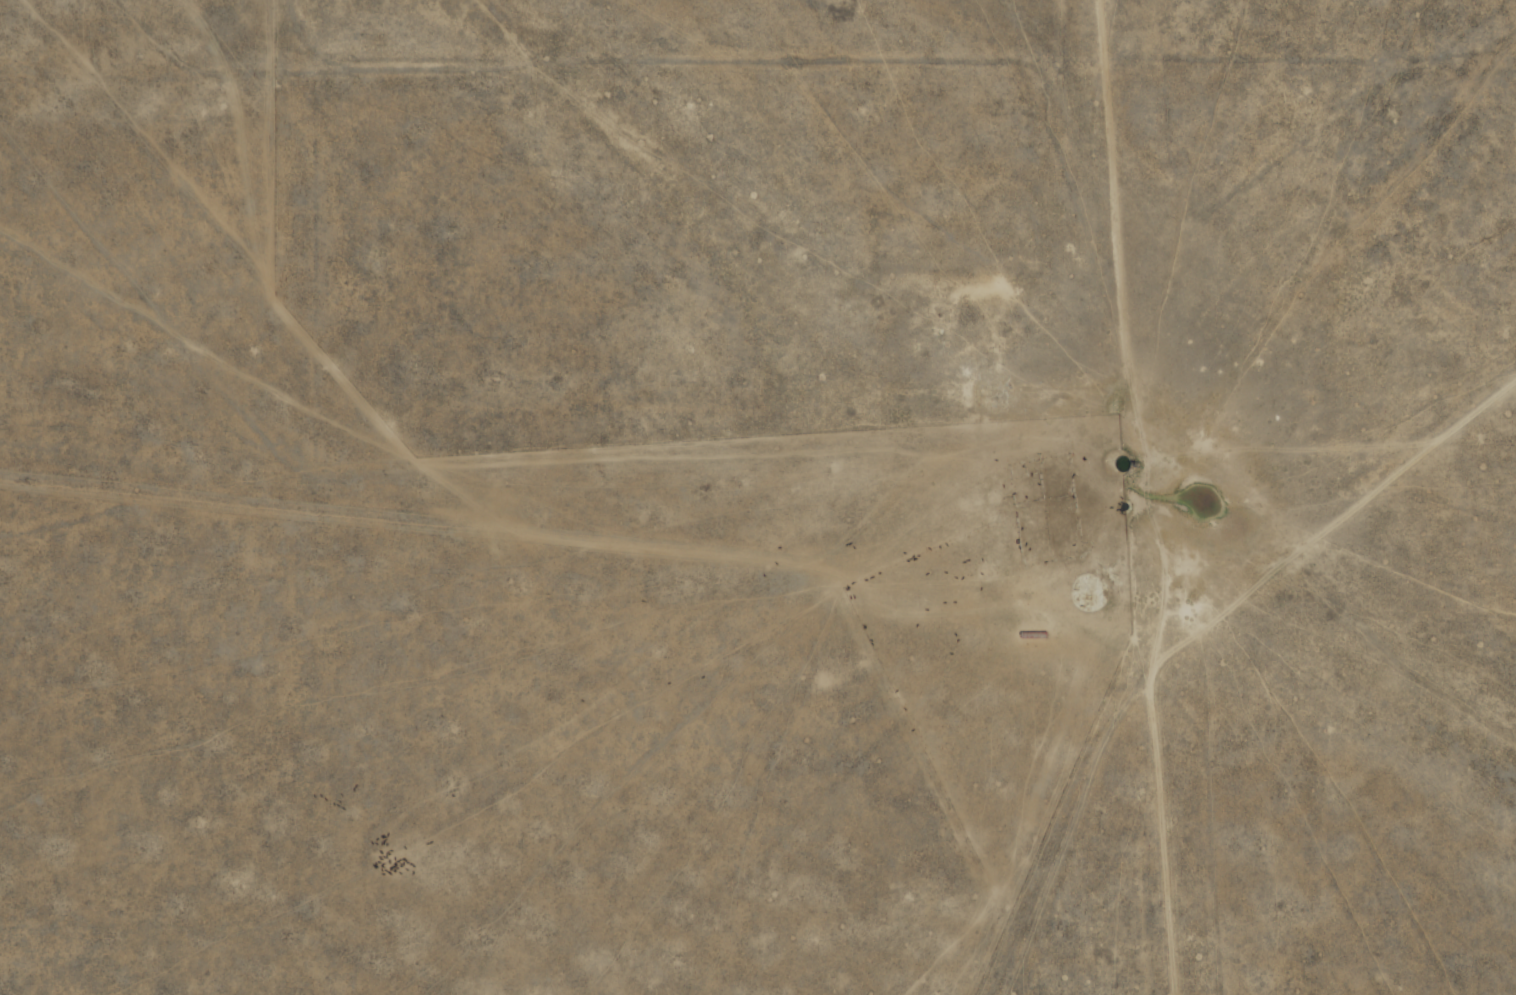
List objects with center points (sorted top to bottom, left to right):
road: (1164, 816)

